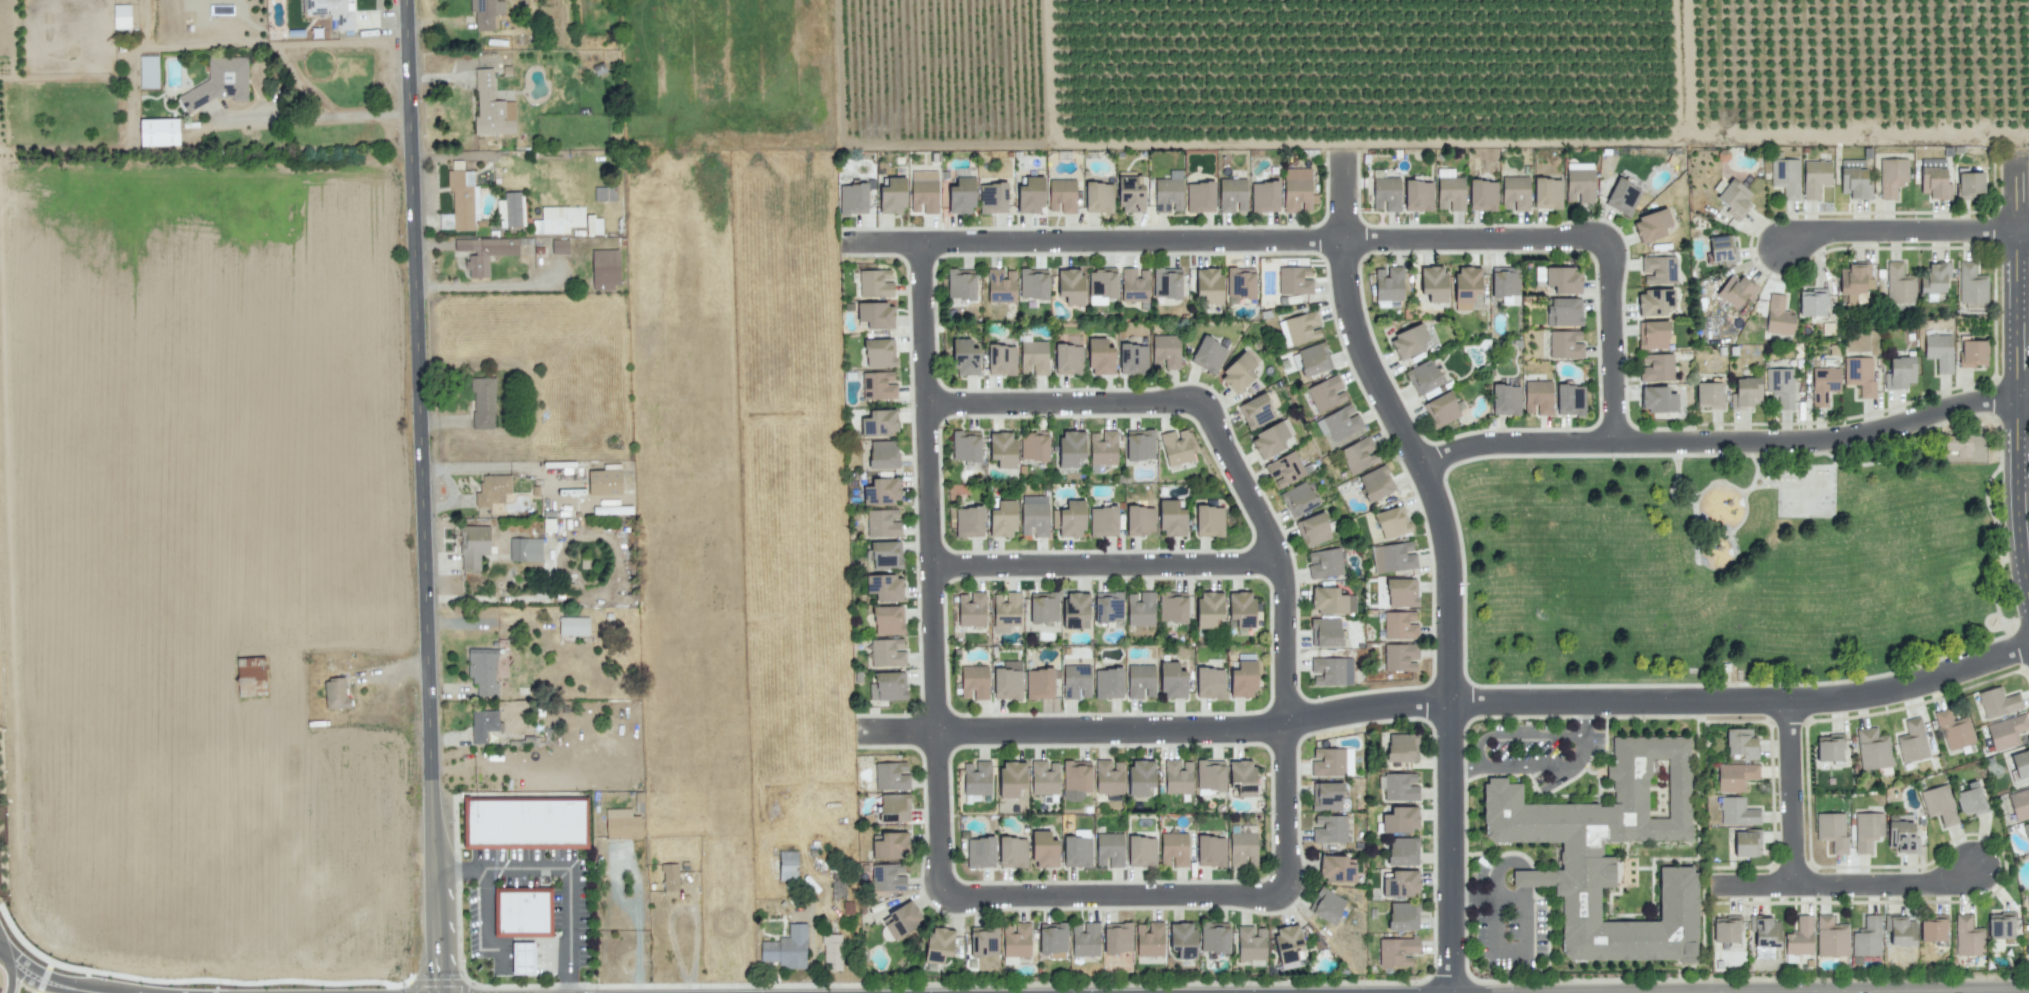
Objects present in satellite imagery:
building: (330, 11)
building: (486, 12)
building: (121, 16)
road: (254, 41)
building: (148, 71)
building: (218, 83)
building: (491, 107)
road: (312, 117)
building: (159, 132)
road: (802, 148)
building: (1892, 176)
building: (1786, 177)
building: (1815, 177)
building: (1934, 178)
building: (1854, 179)
building: (1970, 184)
building: (1579, 185)
building: (1298, 190)
building: (924, 191)
building: (1450, 191)
building: (1169, 192)
building: (1386, 193)
building: (1515, 193)
building: (1547, 193)
building: (604, 194)
building: (1130, 194)
building: (962, 195)
building: (1031, 195)
building: (1062, 195)
building: (1232, 195)
building: (1418, 195)
building: (1483, 195)
building: (892, 196)
building: (1200, 196)
building: (1265, 196)
building: (1099, 197)
building: (1623, 197)
building: (853, 198)
building: (993, 198)
building: (1734, 199)
building: (459, 201)
building: (511, 210)
building: (558, 219)
building: (594, 225)
building: (1652, 225)
road: (2022, 230)
road: (1899, 231)
road: (1226, 240)
building: (559, 246)
building: (1723, 249)
building: (484, 252)
building: (605, 268)
building: (1658, 269)
building: (1935, 278)
building: (1563, 279)
building: (1294, 280)
building: (1855, 281)
building: (875, 283)
building: (961, 283)
building: (1033, 283)
building: (1102, 283)
building: (1167, 283)
building: (1388, 283)
building: (1433, 283)
building: (1240, 284)
building: (1505, 284)
building: (1899, 284)
building: (1972, 284)
road: (486, 285)
building: (1001, 285)
building: (1134, 285)
building: (1209, 285)
building: (1071, 286)
building: (1466, 286)
building: (1736, 290)
building: (1654, 301)
building: (1812, 302)
building: (1564, 311)
building: (875, 315)
building: (1778, 316)
road: (1352, 317)
building: (1300, 328)
building: (1408, 341)
road: (1615, 342)
building: (1565, 344)
building: (1165, 351)
building: (1939, 351)
building: (879, 353)
building: (1973, 353)
building: (1208, 354)
building: (965, 357)
building: (1034, 357)
building: (1100, 357)
building: (1068, 358)
building: (1133, 358)
building: (1311, 359)
building: (1001, 360)
building: (1656, 367)
building: (1238, 372)
road: (2018, 372)
building: (1900, 373)
building: (1860, 374)
building: (1424, 378)
building: (1824, 384)
building: (878, 385)
building: (1781, 386)
building: (1746, 392)
building: (1326, 393)
building: (1710, 394)
building: (1538, 397)
building: (1505, 399)
building: (1570, 399)
building: (1658, 399)
road: (1084, 402)
building: (483, 403)
building: (1442, 409)
building: (1256, 411)
building: (1340, 422)
building: (879, 423)
building: (1272, 438)
road: (1727, 442)
building: (1140, 444)
building: (1959, 444)
building: (966, 445)
building: (1034, 446)
building: (1071, 447)
building: (1103, 447)
building: (1176, 447)
building: (1002, 449)
building: (883, 454)
building: (1359, 455)
building: (1285, 469)
building: (604, 482)
building: (1376, 483)
building: (492, 489)
building: (882, 491)
road: (56, 496)
road: (422, 496)
building: (1298, 499)
building: (1034, 515)
building: (1003, 519)
building: (1072, 519)
building: (1171, 519)
building: (1140, 520)
building: (1103, 521)
building: (1209, 521)
building: (969, 522)
building: (1392, 522)
building: (883, 523)
building: (1313, 529)
building: (473, 546)
building: (525, 549)
building: (886, 555)
building: (1393, 557)
building: (1325, 563)
park: (1735, 564)
road: (1108, 566)
road: (936, 568)
building: (885, 586)
building: (1402, 592)
building: (1331, 600)
building: (1173, 606)
building: (1044, 607)
building: (1108, 607)
building: (1141, 608)
building: (1209, 608)
building: (971, 609)
building: (1241, 609)
building: (1076, 610)
building: (1006, 611)
building: (888, 620)
building: (1400, 625)
building: (573, 626)
building: (1325, 632)
building: (887, 652)
road: (1288, 657)
building: (1400, 657)
building: (483, 670)
building: (1332, 670)
building: (249, 674)
building: (1243, 679)
building: (1008, 680)
building: (1172, 680)
building: (1076, 681)
building: (1141, 681)
building: (974, 682)
building: (1039, 683)
building: (1108, 683)
building: (1210, 683)
building: (888, 686)
building: (335, 694)
building: (1998, 702)
road: (1448, 703)
building: (484, 725)
road: (1451, 727)
building: (1954, 730)
building: (2006, 732)
road: (1532, 733)
building: (1912, 741)
building: (1741, 743)
building: (1402, 747)
building: (1829, 747)
building: (1873, 749)
parking lot: (1537, 751)
road: (1579, 753)
building: (1349, 761)
building: (1328, 762)
building: (2021, 764)
road: (1466, 765)
road: (1518, 765)
building: (891, 775)
building: (1076, 775)
building: (1210, 775)
building: (1178, 776)
building: (1736, 776)
building: (977, 777)
building: (1044, 777)
building: (1109, 777)
building: (1140, 777)
building: (1242, 777)
building: (1011, 778)
building: (1399, 786)
road: (1795, 793)
building: (1326, 796)
building: (1970, 799)
building: (1939, 804)
building: (2020, 804)
building: (894, 807)
building: (1737, 812)
building: (1400, 819)
building: (524, 824)
building: (622, 824)
building: (1329, 829)
building: (1832, 830)
building: (1867, 830)
building: (1902, 837)
building: (1747, 843)
building: (891, 845)
building: (1243, 846)
building: (1174, 849)
building: (1582, 849)
building: (1044, 850)
building: (1109, 850)
building: (1077, 851)
building: (1141, 851)
building: (1211, 851)
building: (1403, 851)
building: (980, 852)
building: (1012, 852)
road: (619, 863)
building: (788, 865)
building: (1336, 868)
road: (565, 870)
building: (670, 876)
building: (888, 877)
building: (1401, 884)
road: (1843, 885)
road: (1117, 893)
building: (2028, 899)
building: (1326, 905)
parking lot: (1509, 912)
building: (522, 914)
gas station: (522, 914)
building: (1403, 916)
building: (902, 920)
building: (2001, 925)
building: (1934, 928)
building: (1726, 929)
building: (1901, 930)
road: (1525, 932)
building: (1765, 936)
building: (1117, 937)
building: (1214, 937)
building: (1800, 937)
building: (1831, 937)
building: (1867, 937)
building: (1968, 937)
building: (1016, 939)
building: (1053, 939)
building: (1085, 939)
building: (1150, 939)
building: (1183, 939)
building: (984, 941)
building: (1287, 942)
building: (1251, 943)
building: (939, 944)
building: (787, 948)
building: (1397, 951)
building: (832, 952)
road: (637, 957)
building: (522, 958)
road: (12, 968)
road: (75, 985)

